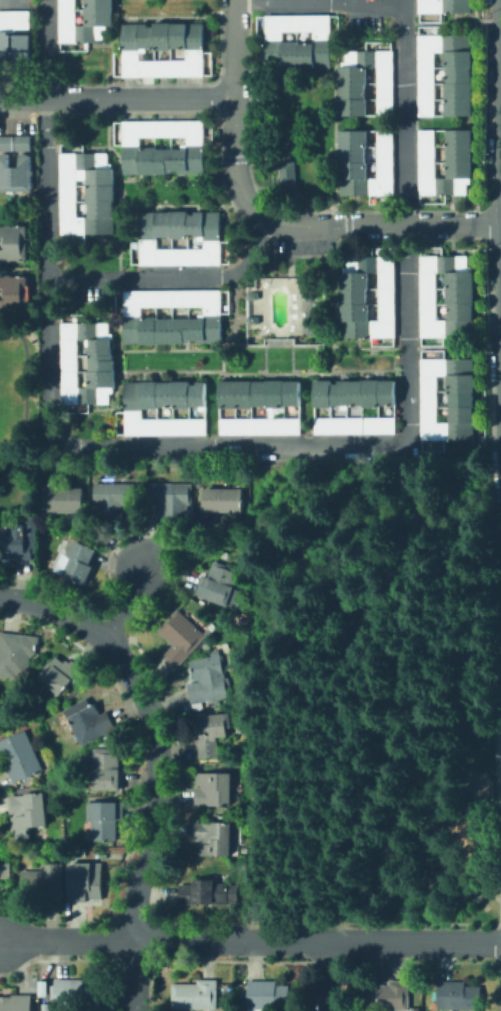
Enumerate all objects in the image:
road: (14, 0)
road: (320, 3)
building: (445, 6)
building: (99, 12)
building: (15, 21)
building: (298, 42)
building: (163, 49)
building: (14, 52)
building: (460, 75)
building: (366, 82)
road: (117, 99)
road: (236, 107)
road: (406, 112)
building: (132, 142)
building: (22, 143)
building: (6, 144)
building: (460, 154)
building: (367, 164)
building: (15, 175)
building: (285, 175)
building: (101, 190)
road: (48, 225)
road: (375, 226)
building: (180, 237)
building: (14, 243)
road: (175, 279)
building: (14, 294)
building: (354, 297)
building: (447, 297)
building: (141, 318)
building: (103, 365)
park: (20, 389)
building: (355, 393)
road: (24, 394)
building: (462, 407)
building: (81, 408)
building: (142, 408)
building: (237, 408)
building: (355, 426)
building: (431, 444)
road: (340, 445)
building: (64, 500)
building: (114, 500)
building: (172, 500)
building: (224, 500)
building: (19, 540)
building: (78, 562)
building: (221, 585)
building: (189, 603)
road: (130, 606)
building: (212, 607)
road: (55, 611)
road: (392, 619)
road: (310, 621)
building: (214, 627)
building: (182, 638)
building: (16, 653)
building: (62, 676)
building: (209, 679)
park: (375, 692)
building: (240, 694)
building: (90, 721)
road: (422, 723)
building: (211, 734)
building: (21, 756)
building: (107, 770)
road: (157, 786)
building: (214, 789)
building: (29, 812)
building: (106, 819)
building: (215, 839)
road: (405, 839)
building: (1, 869)
road: (305, 879)
building: (50, 882)
building: (87, 882)
building: (209, 893)
road: (498, 908)
road: (498, 931)
road: (250, 942)
road: (329, 976)
road: (137, 977)
building: (77, 994)
building: (195, 995)
building: (268, 996)
building: (387, 996)
building: (458, 996)
building: (16, 1003)

